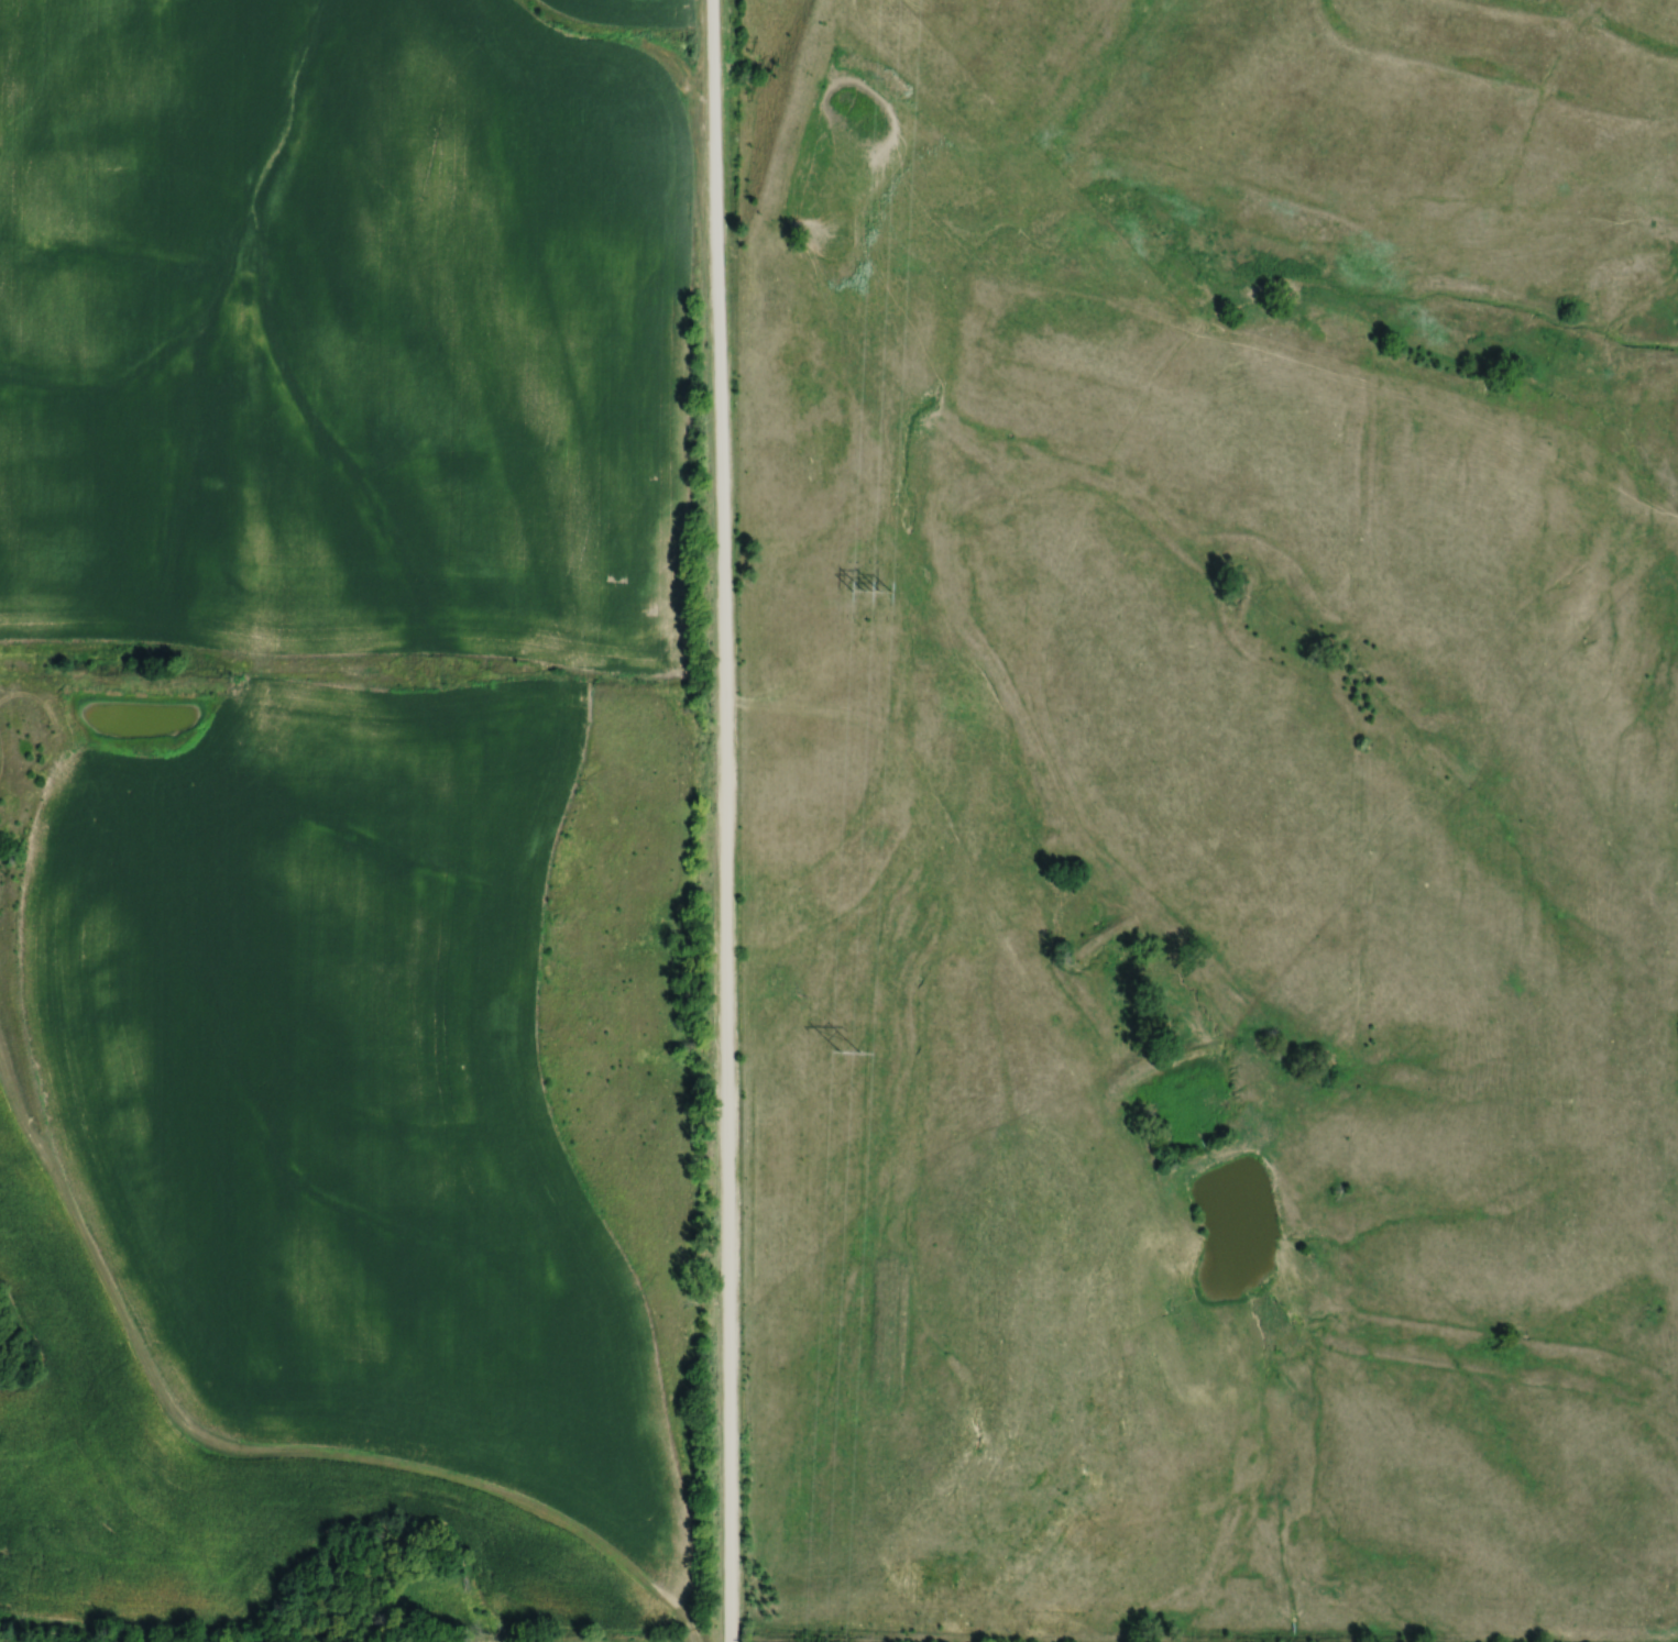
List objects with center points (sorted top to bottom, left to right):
dam: (796, 114)
power tower: (879, 593)
road: (725, 820)
power tower: (849, 1301)

